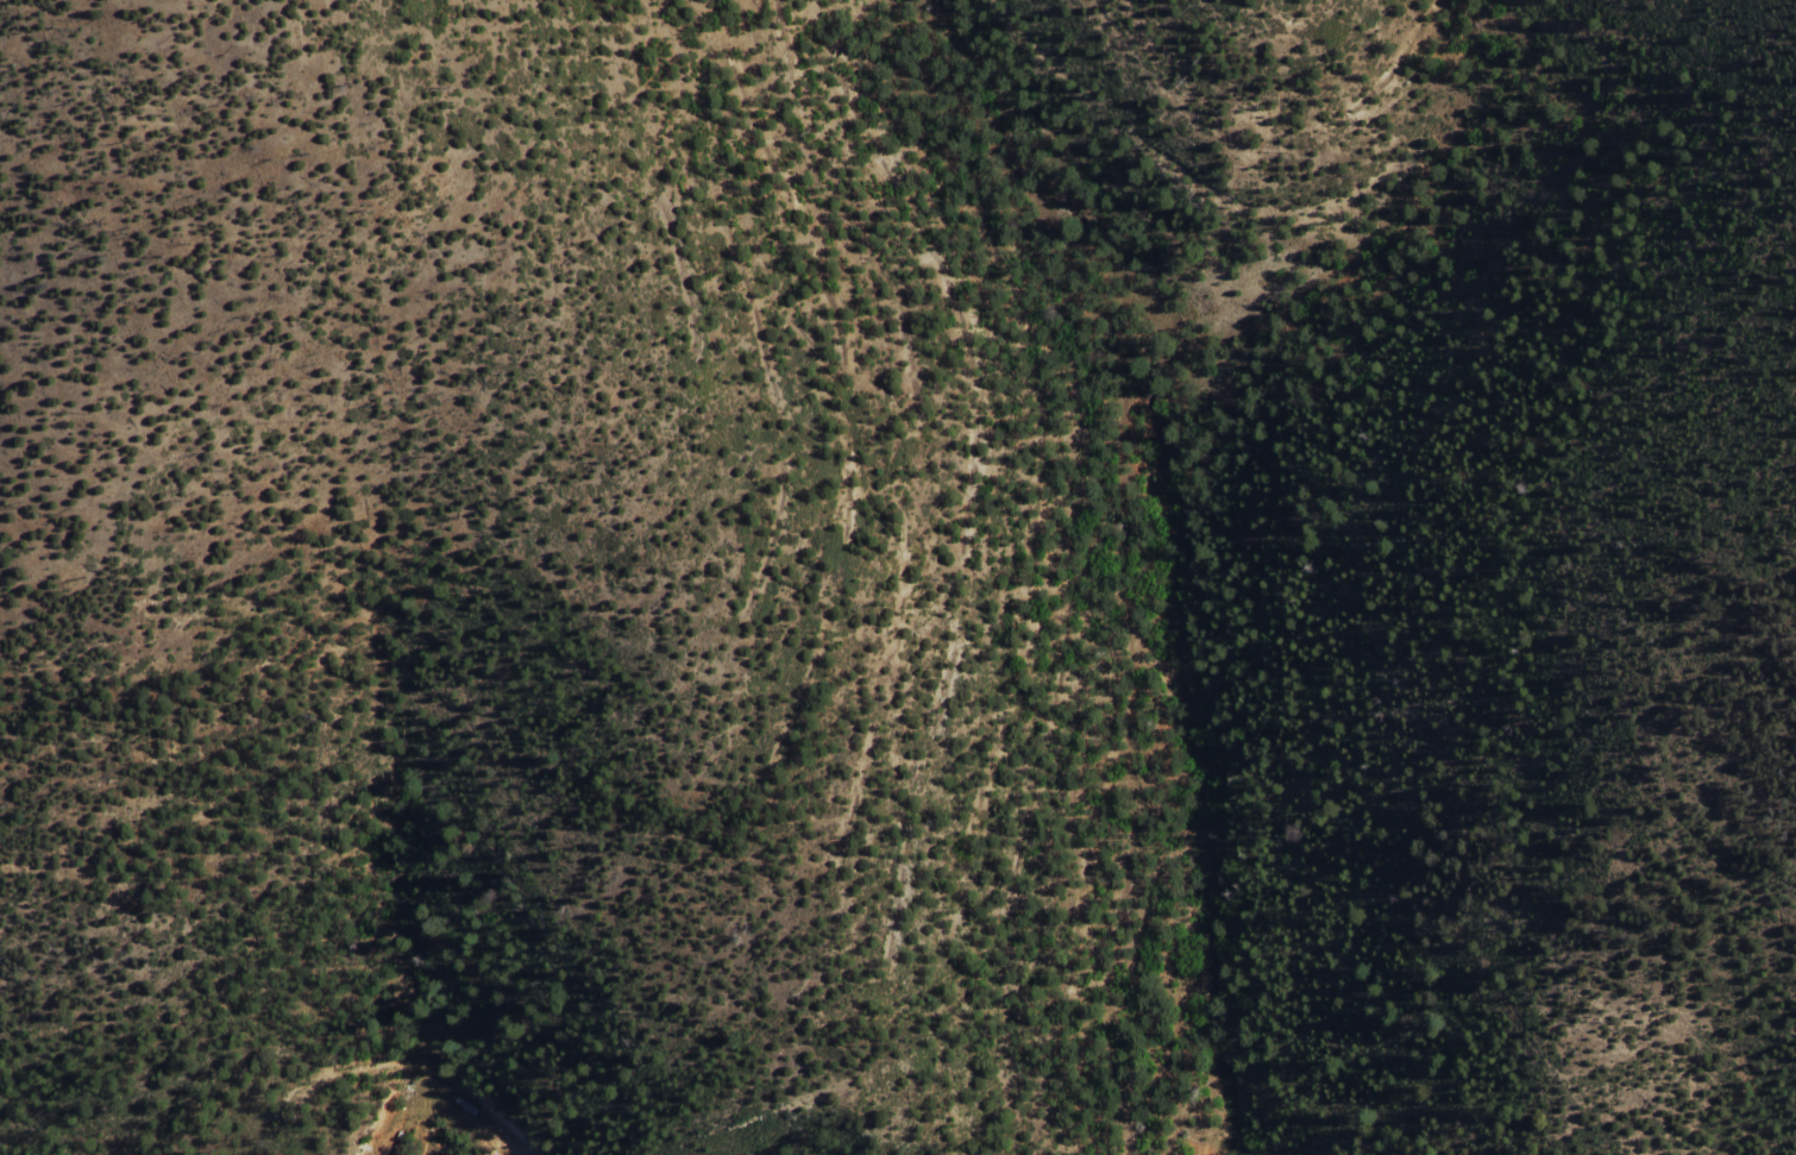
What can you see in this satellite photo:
road: (194, 936)

